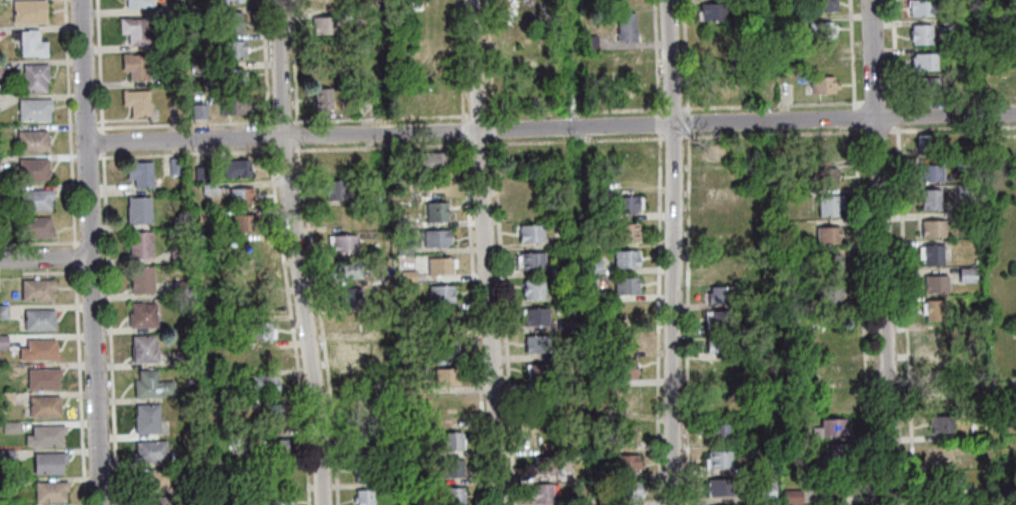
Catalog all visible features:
building: (230, 0)
building: (782, 2)
building: (141, 3)
building: (323, 4)
building: (750, 5)
building: (824, 5)
building: (920, 8)
building: (558, 9)
building: (30, 11)
building: (169, 11)
building: (712, 12)
building: (202, 14)
building: (984, 15)
building: (519, 17)
building: (236, 20)
building: (321, 26)
building: (626, 26)
building: (1009, 29)
building: (136, 30)
building: (822, 30)
building: (922, 33)
building: (752, 34)
building: (203, 37)
building: (589, 41)
building: (32, 43)
building: (169, 43)
building: (236, 48)
road: (894, 51)
road: (852, 53)
road: (684, 55)
road: (655, 56)
building: (825, 57)
road: (460, 59)
road: (490, 59)
building: (724, 59)
road: (265, 60)
building: (626, 60)
building: (923, 61)
road: (100, 65)
building: (135, 65)
building: (199, 68)
building: (588, 69)
road: (294, 72)
building: (171, 73)
building: (237, 76)
building: (36, 77)
building: (824, 84)
building: (923, 85)
building: (324, 98)
road: (952, 98)
road: (876, 99)
building: (139, 102)
road: (294, 103)
road: (772, 103)
road: (269, 104)
road: (282, 104)
building: (234, 105)
road: (672, 107)
building: (35, 109)
building: (200, 110)
road: (578, 110)
road: (477, 113)
road: (489, 113)
road: (897, 114)
road: (382, 115)
road: (854, 115)
road: (686, 121)
road: (267, 122)
road: (658, 122)
road: (183, 123)
road: (91, 127)
road: (493, 127)
road: (952, 127)
road: (70, 129)
road: (550, 129)
road: (877, 130)
road: (773, 132)
road: (266, 134)
road: (674, 136)
road: (576, 138)
road: (103, 139)
building: (34, 140)
road: (479, 142)
road: (383, 144)
building: (923, 144)
building: (825, 146)
road: (183, 152)
road: (92, 156)
road: (271, 158)
road: (284, 158)
road: (297, 158)
building: (393, 160)
building: (429, 160)
building: (962, 162)
building: (334, 164)
building: (173, 165)
building: (234, 167)
building: (34, 168)
building: (138, 172)
building: (198, 173)
building: (926, 173)
building: (719, 176)
building: (822, 176)
building: (963, 178)
building: (207, 187)
building: (333, 189)
building: (962, 189)
building: (239, 196)
building: (369, 197)
building: (722, 197)
building: (928, 198)
building: (37, 199)
building: (623, 203)
building: (827, 204)
building: (529, 205)
building: (137, 209)
building: (433, 211)
building: (974, 213)
building: (203, 216)
building: (340, 216)
building: (720, 221)
building: (242, 222)
building: (39, 226)
building: (2, 228)
building: (931, 228)
building: (623, 231)
building: (529, 232)
building: (973, 233)
building: (825, 234)
building: (433, 238)
building: (560, 239)
road: (41, 241)
road: (84, 241)
building: (138, 243)
building: (342, 243)
park: (999, 243)
building: (722, 245)
building: (252, 248)
building: (402, 248)
road: (3, 249)
road: (90, 252)
road: (298, 252)
road: (484, 252)
road: (672, 252)
road: (880, 252)
building: (931, 255)
building: (623, 258)
road: (45, 259)
building: (530, 260)
building: (974, 260)
road: (74, 263)
building: (828, 263)
building: (437, 266)
building: (591, 266)
building: (346, 269)
building: (721, 271)
building: (965, 274)
building: (406, 275)
building: (253, 277)
building: (140, 278)
building: (799, 283)
building: (934, 283)
building: (624, 285)
building: (179, 287)
building: (34, 289)
building: (531, 289)
building: (440, 293)
building: (828, 293)
building: (718, 295)
building: (350, 297)
building: (256, 300)
building: (757, 300)
building: (932, 309)
building: (2, 311)
road: (474, 312)
building: (627, 312)
building: (141, 314)
road: (861, 314)
road: (903, 314)
building: (534, 315)
building: (37, 318)
road: (661, 318)
road: (686, 318)
building: (717, 318)
road: (504, 319)
road: (290, 324)
road: (321, 324)
building: (352, 324)
building: (564, 324)
road: (110, 327)
building: (258, 329)
building: (940, 338)
building: (622, 340)
building: (2, 342)
building: (535, 343)
building: (716, 343)
building: (833, 343)
building: (142, 347)
building: (443, 348)
building: (36, 349)
building: (356, 350)
building: (566, 352)
building: (265, 356)
building: (178, 358)
building: (413, 358)
building: (718, 366)
building: (835, 367)
building: (939, 367)
building: (623, 368)
building: (537, 373)
building: (443, 376)
building: (41, 378)
building: (360, 379)
building: (148, 383)
building: (262, 383)
road: (77, 386)
building: (419, 387)
building: (1012, 388)
building: (835, 395)
building: (938, 395)
building: (5, 396)
building: (721, 398)
building: (630, 402)
building: (42, 405)
building: (547, 405)
building: (451, 406)
building: (268, 412)
building: (145, 418)
building: (1013, 418)
building: (938, 423)
building: (9, 426)
building: (831, 426)
building: (717, 431)
building: (626, 434)
building: (45, 435)
building: (450, 440)
building: (365, 445)
building: (235, 446)
building: (275, 447)
building: (399, 448)
building: (148, 450)
building: (1014, 451)
building: (942, 452)
building: (833, 453)
building: (5, 456)
building: (717, 458)
building: (184, 459)
building: (47, 461)
building: (625, 462)
building: (546, 464)
building: (451, 468)
building: (362, 471)
building: (277, 474)
building: (152, 477)
building: (945, 480)
building: (10, 482)
building: (831, 484)
building: (718, 486)
building: (184, 487)
building: (628, 490)
building: (765, 490)
building: (48, 491)
building: (542, 492)
building: (452, 495)
building: (363, 496)
building: (790, 496)
building: (151, 500)
building: (275, 500)
building: (575, 500)
building: (943, 503)
building: (10, 504)
building: (398, 504)

